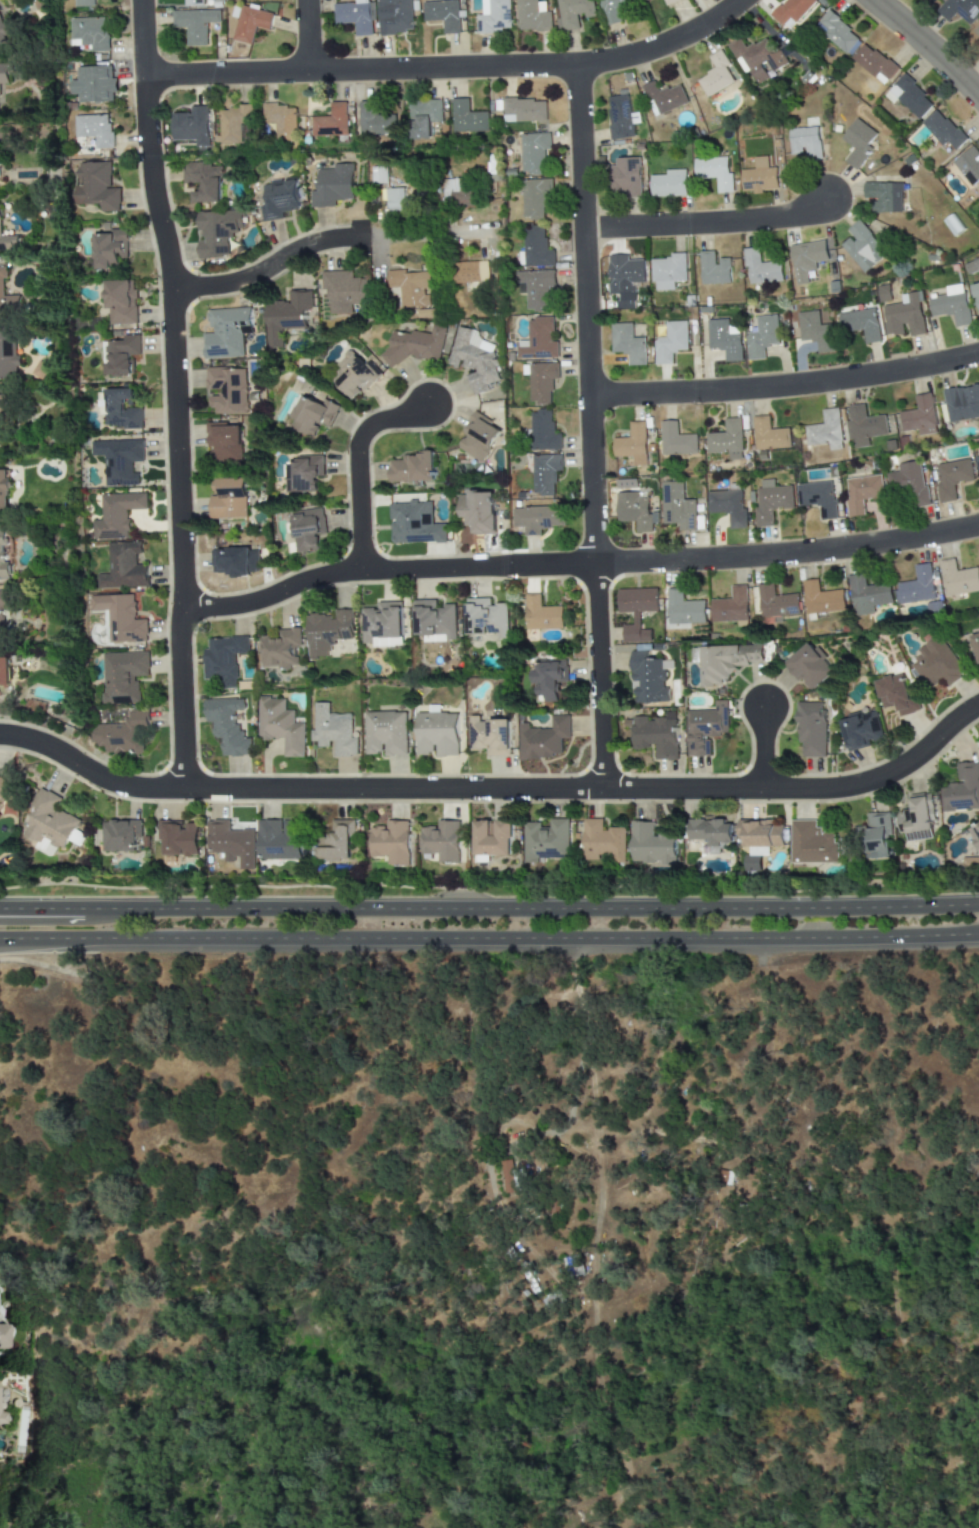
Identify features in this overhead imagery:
building: (646, 0)
building: (193, 2)
building: (669, 2)
building: (83, 3)
building: (958, 9)
building: (613, 10)
building: (791, 10)
building: (572, 13)
building: (443, 14)
building: (356, 15)
building: (395, 16)
building: (531, 16)
building: (494, 17)
building: (251, 23)
building: (195, 24)
building: (976, 30)
building: (3, 33)
building: (89, 33)
building: (838, 33)
road: (306, 35)
road: (921, 53)
building: (756, 57)
building: (873, 62)
road: (449, 67)
building: (4, 73)
building: (717, 74)
building: (94, 85)
building: (909, 97)
building: (663, 98)
building: (524, 110)
building: (0, 111)
building: (423, 117)
building: (468, 117)
building: (619, 117)
building: (374, 119)
building: (282, 121)
building: (331, 122)
building: (233, 123)
building: (191, 125)
building: (94, 129)
building: (942, 130)
building: (805, 142)
building: (858, 142)
building: (533, 153)
building: (969, 165)
building: (715, 172)
building: (378, 174)
building: (625, 176)
building: (759, 180)
building: (202, 181)
building: (669, 183)
building: (333, 185)
building: (95, 186)
building: (457, 194)
building: (884, 196)
building: (535, 197)
building: (279, 200)
building: (397, 201)
road: (707, 222)
building: (217, 231)
road: (324, 240)
building: (8, 243)
building: (862, 247)
building: (109, 248)
building: (537, 248)
building: (806, 259)
building: (972, 266)
building: (714, 268)
building: (761, 269)
building: (668, 271)
building: (470, 272)
building: (624, 274)
building: (411, 287)
building: (535, 288)
building: (344, 291)
building: (976, 295)
building: (7, 299)
building: (120, 302)
building: (951, 305)
building: (286, 315)
building: (904, 316)
building: (860, 324)
building: (815, 331)
building: (225, 333)
building: (762, 336)
building: (724, 339)
building: (538, 340)
building: (670, 342)
building: (627, 344)
building: (8, 354)
building: (120, 355)
building: (473, 359)
building: (40, 370)
building: (353, 375)
building: (541, 381)
road: (785, 387)
building: (227, 389)
road: (172, 394)
building: (962, 403)
building: (118, 409)
building: (312, 415)
building: (919, 416)
building: (1, 421)
building: (863, 426)
road: (590, 428)
building: (543, 431)
building: (825, 431)
building: (769, 435)
building: (477, 437)
building: (727, 439)
building: (676, 440)
building: (224, 442)
building: (632, 444)
building: (119, 461)
building: (977, 463)
road: (356, 465)
building: (412, 468)
building: (307, 473)
building: (545, 473)
building: (951, 478)
building: (909, 482)
building: (627, 484)
building: (4, 489)
building: (861, 493)
building: (818, 495)
building: (229, 499)
building: (771, 501)
building: (727, 506)
building: (634, 510)
building: (478, 511)
building: (116, 515)
building: (538, 519)
building: (414, 523)
building: (308, 530)
building: (2, 551)
building: (235, 561)
building: (123, 567)
road: (576, 567)
building: (958, 579)
building: (916, 586)
building: (867, 595)
building: (821, 599)
building: (776, 602)
building: (730, 606)
building: (683, 609)
building: (2, 610)
building: (636, 611)
building: (541, 614)
building: (120, 618)
building: (486, 618)
building: (434, 621)
building: (383, 625)
building: (327, 632)
building: (975, 644)
building: (280, 648)
building: (223, 659)
building: (722, 661)
building: (936, 664)
building: (809, 666)
building: (5, 674)
building: (122, 676)
building: (648, 678)
building: (548, 679)
building: (896, 694)
building: (227, 726)
building: (280, 726)
building: (705, 728)
building: (811, 729)
building: (862, 730)
building: (333, 731)
building: (387, 733)
building: (122, 734)
building: (438, 734)
building: (654, 735)
building: (490, 736)
building: (543, 738)
road: (761, 746)
building: (962, 789)
building: (4, 792)
road: (496, 792)
building: (917, 819)
building: (48, 824)
building: (711, 833)
building: (878, 835)
building: (974, 835)
building: (121, 836)
building: (178, 838)
building: (492, 839)
building: (280, 840)
building: (759, 840)
building: (443, 841)
building: (547, 841)
building: (336, 842)
building: (604, 842)
building: (392, 843)
building: (231, 844)
building: (812, 844)
building: (651, 845)
road: (489, 904)
road: (67, 919)
road: (489, 949)
road: (42, 966)
road: (580, 1070)
road: (600, 1162)
building: (508, 1176)
building: (726, 1177)
building: (573, 1266)
building: (3, 1337)
building: (0, 1418)

